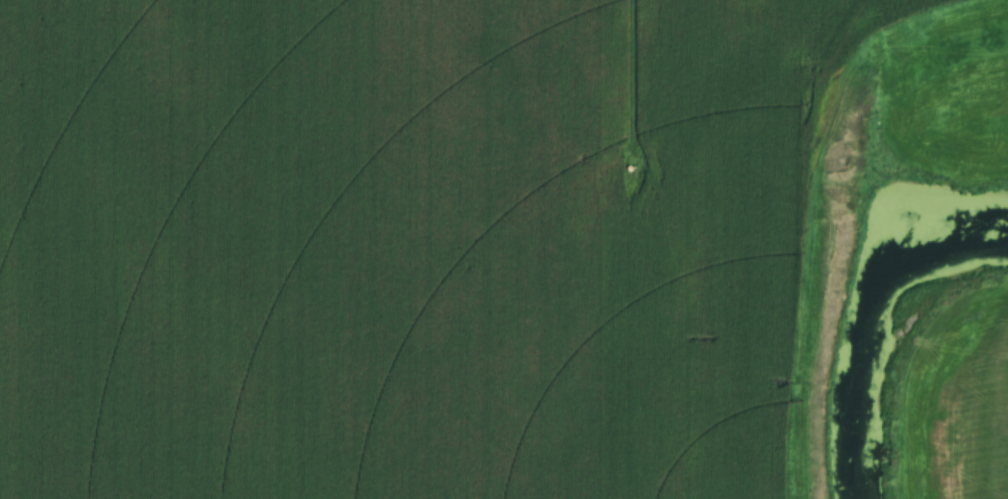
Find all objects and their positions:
river: (875, 317)

